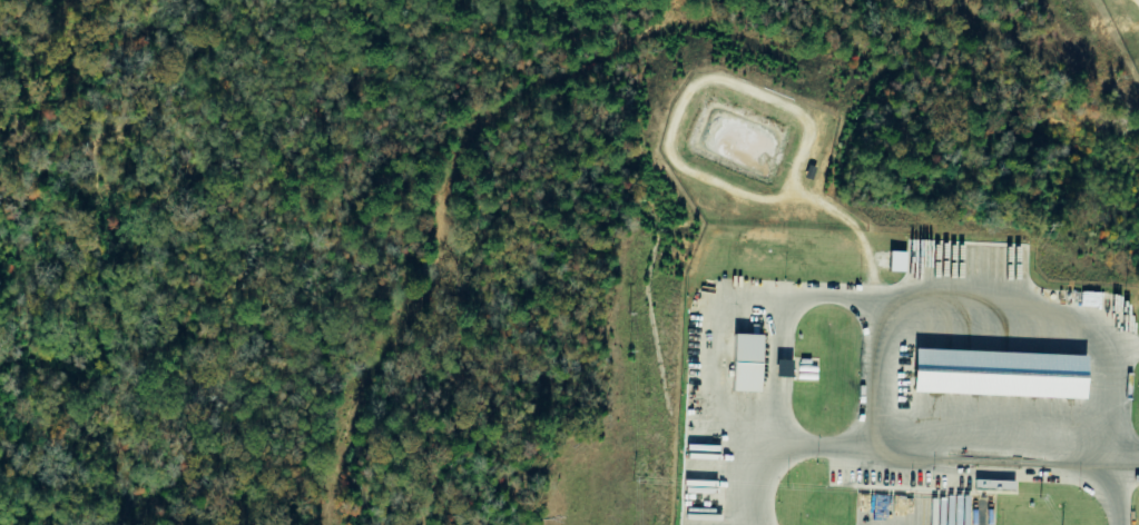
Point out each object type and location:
building: (897, 261)
road: (715, 304)
road: (985, 306)
building: (746, 364)
road: (770, 374)
building: (999, 375)
road: (933, 458)
road: (1128, 469)
building: (994, 485)

